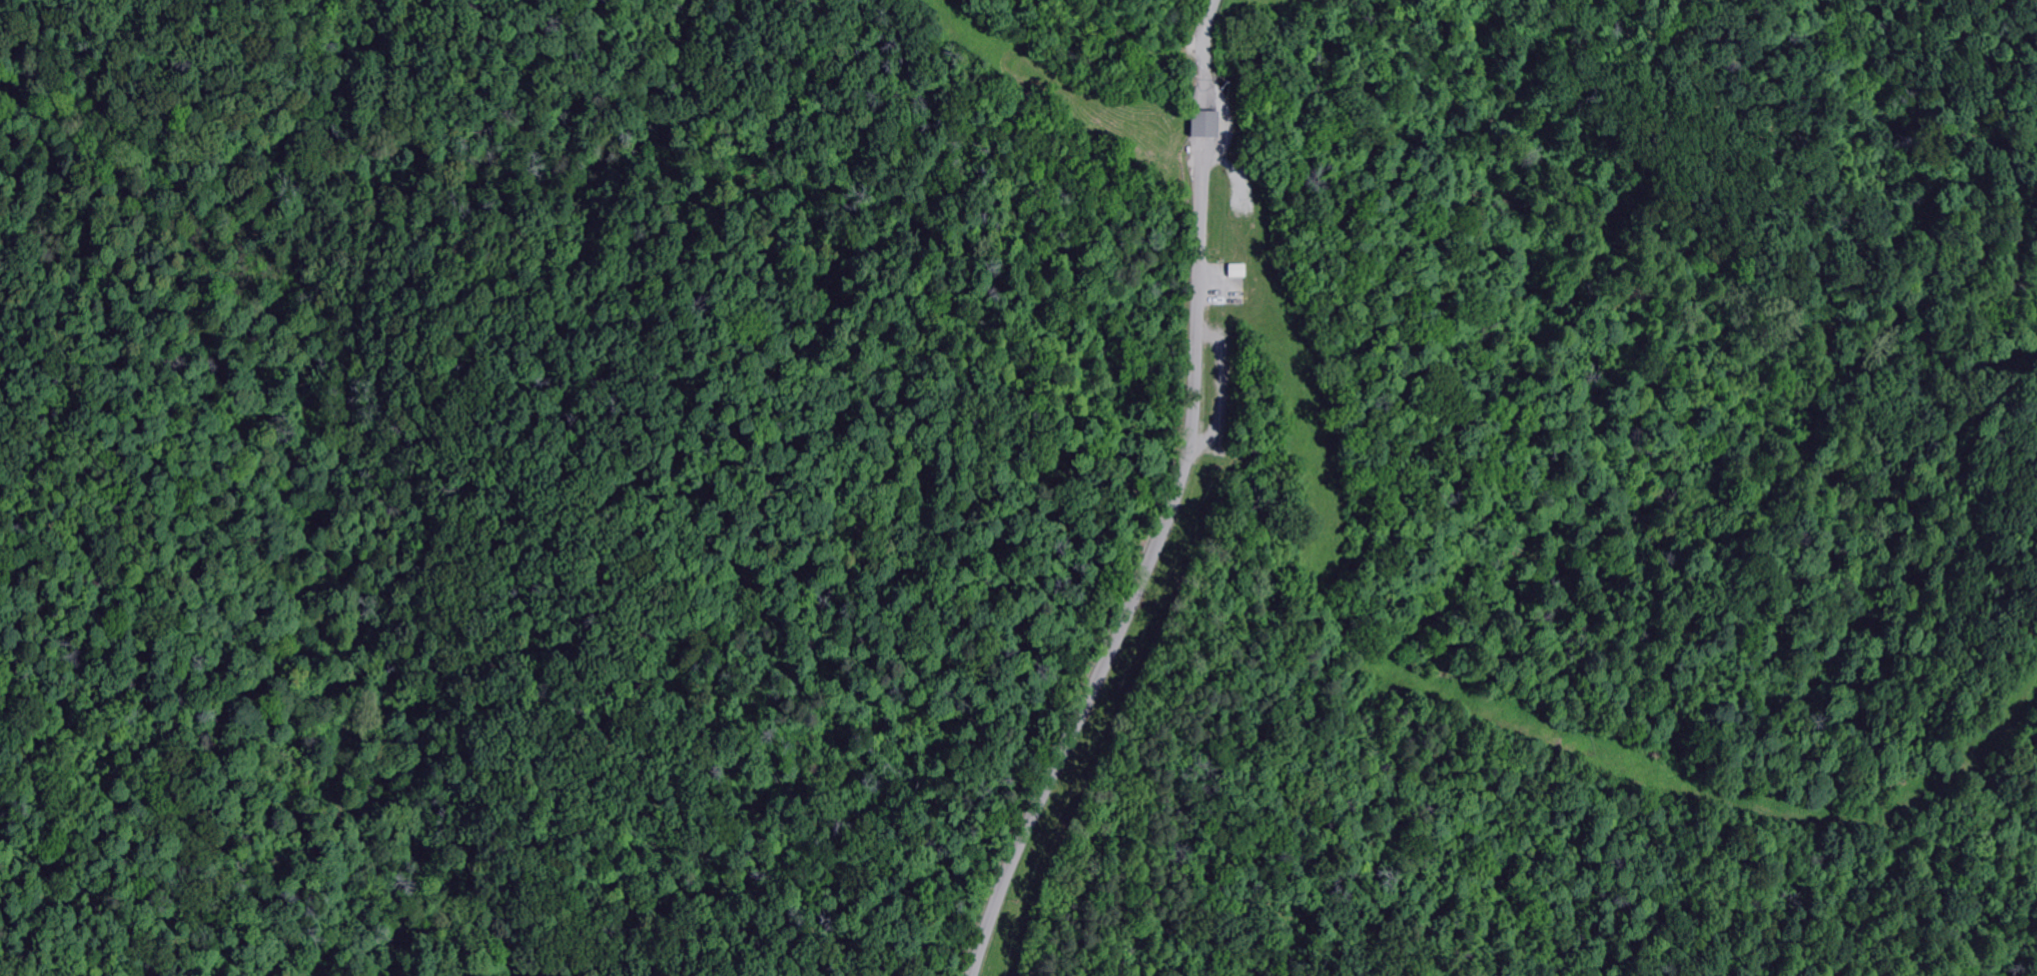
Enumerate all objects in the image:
road: (1208, 57)
building: (1228, 272)
road: (1143, 560)

